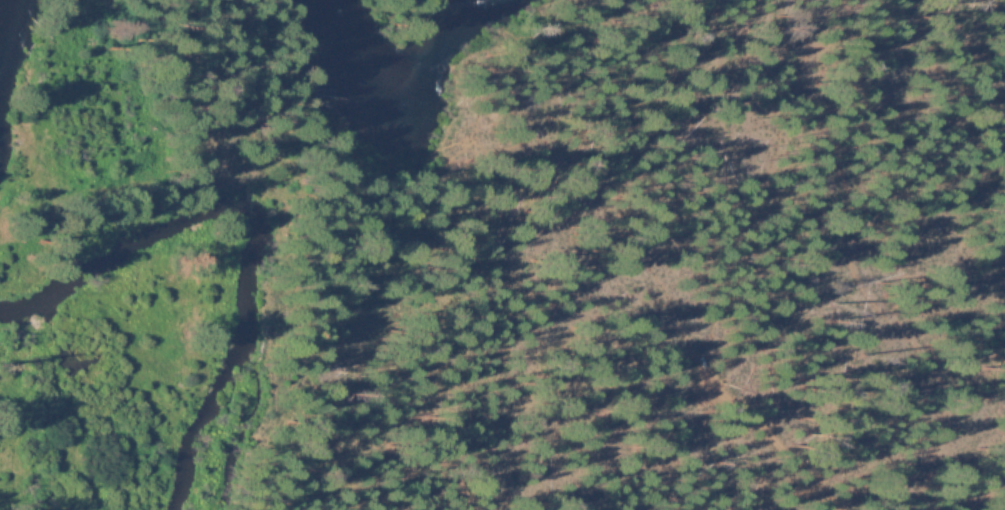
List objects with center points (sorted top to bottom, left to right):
river: (382, 101)

